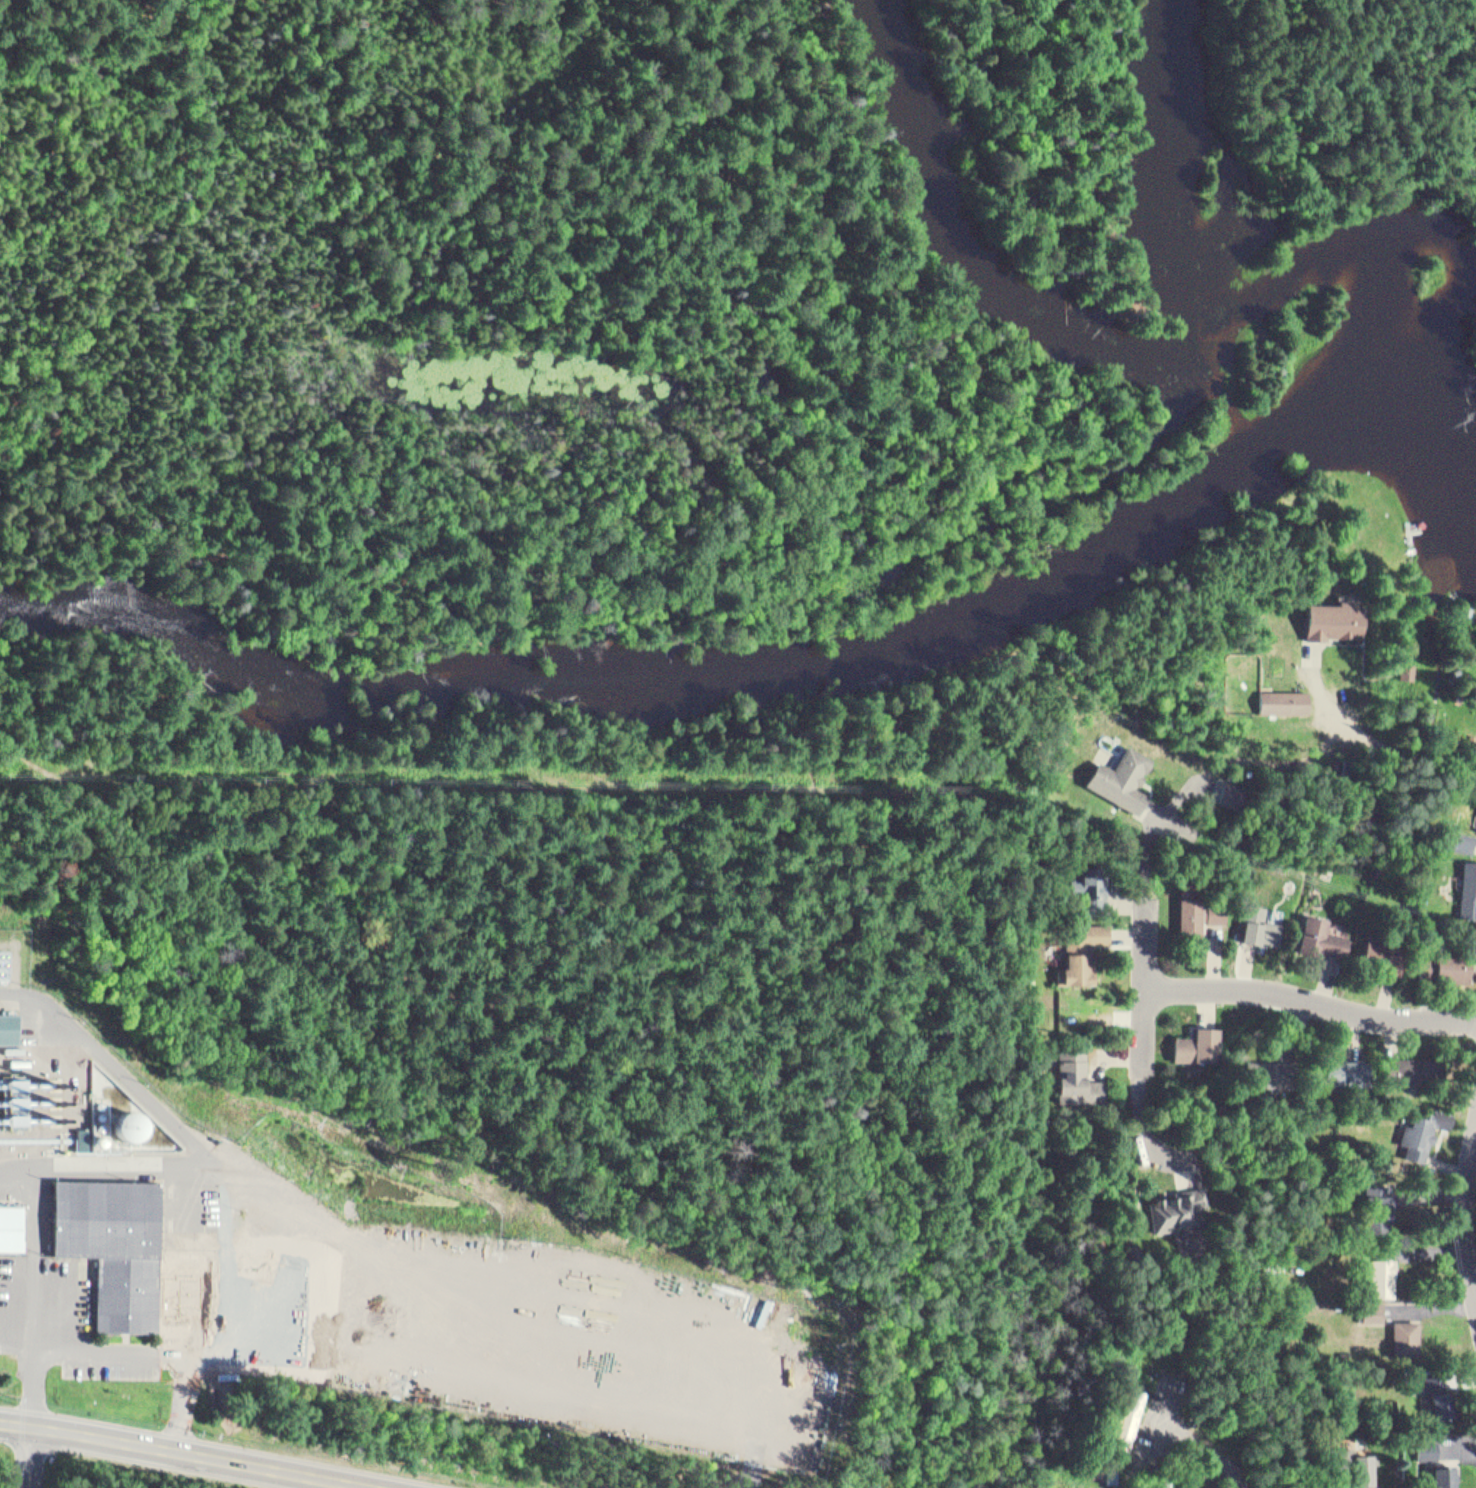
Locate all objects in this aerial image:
road: (709, 82)
road: (1360, 152)
road: (1294, 182)
road: (865, 249)
road: (864, 453)
road: (81, 507)
road: (905, 598)
building: (1328, 617)
building: (1404, 664)
building: (1283, 696)
road: (796, 757)
building: (1119, 773)
building: (1230, 785)
building: (1462, 828)
building: (1465, 842)
building: (1088, 883)
building: (1467, 885)
building: (1197, 907)
building: (1258, 920)
building: (1320, 932)
building: (1079, 945)
building: (1420, 953)
road: (1315, 1005)
road: (1153, 1012)
building: (3, 1021)
building: (1197, 1041)
building: (1415, 1065)
building: (1343, 1067)
building: (1077, 1070)
building: (1266, 1070)
building: (1422, 1127)
road: (113, 1159)
building: (1378, 1196)
building: (1178, 1207)
building: (1383, 1212)
building: (11, 1227)
building: (114, 1246)
road: (405, 1249)
building: (1381, 1272)
road: (37, 1293)
road: (194, 1304)
building: (1373, 1305)
building: (1406, 1330)
road: (114, 1348)
building: (1437, 1387)
building: (1128, 1414)
road: (449, 1441)
road: (1345, 1450)
road: (190, 1452)
road: (32, 1456)
building: (1434, 1459)
building: (1368, 1466)
building: (1110, 1470)
building: (1191, 1482)
building: (1330, 1485)

